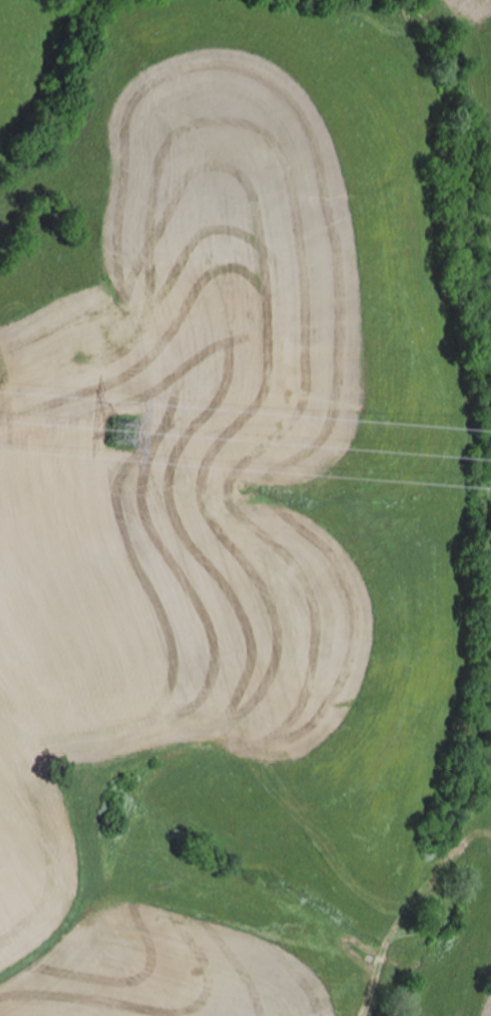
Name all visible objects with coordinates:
power tower: (117, 431)

